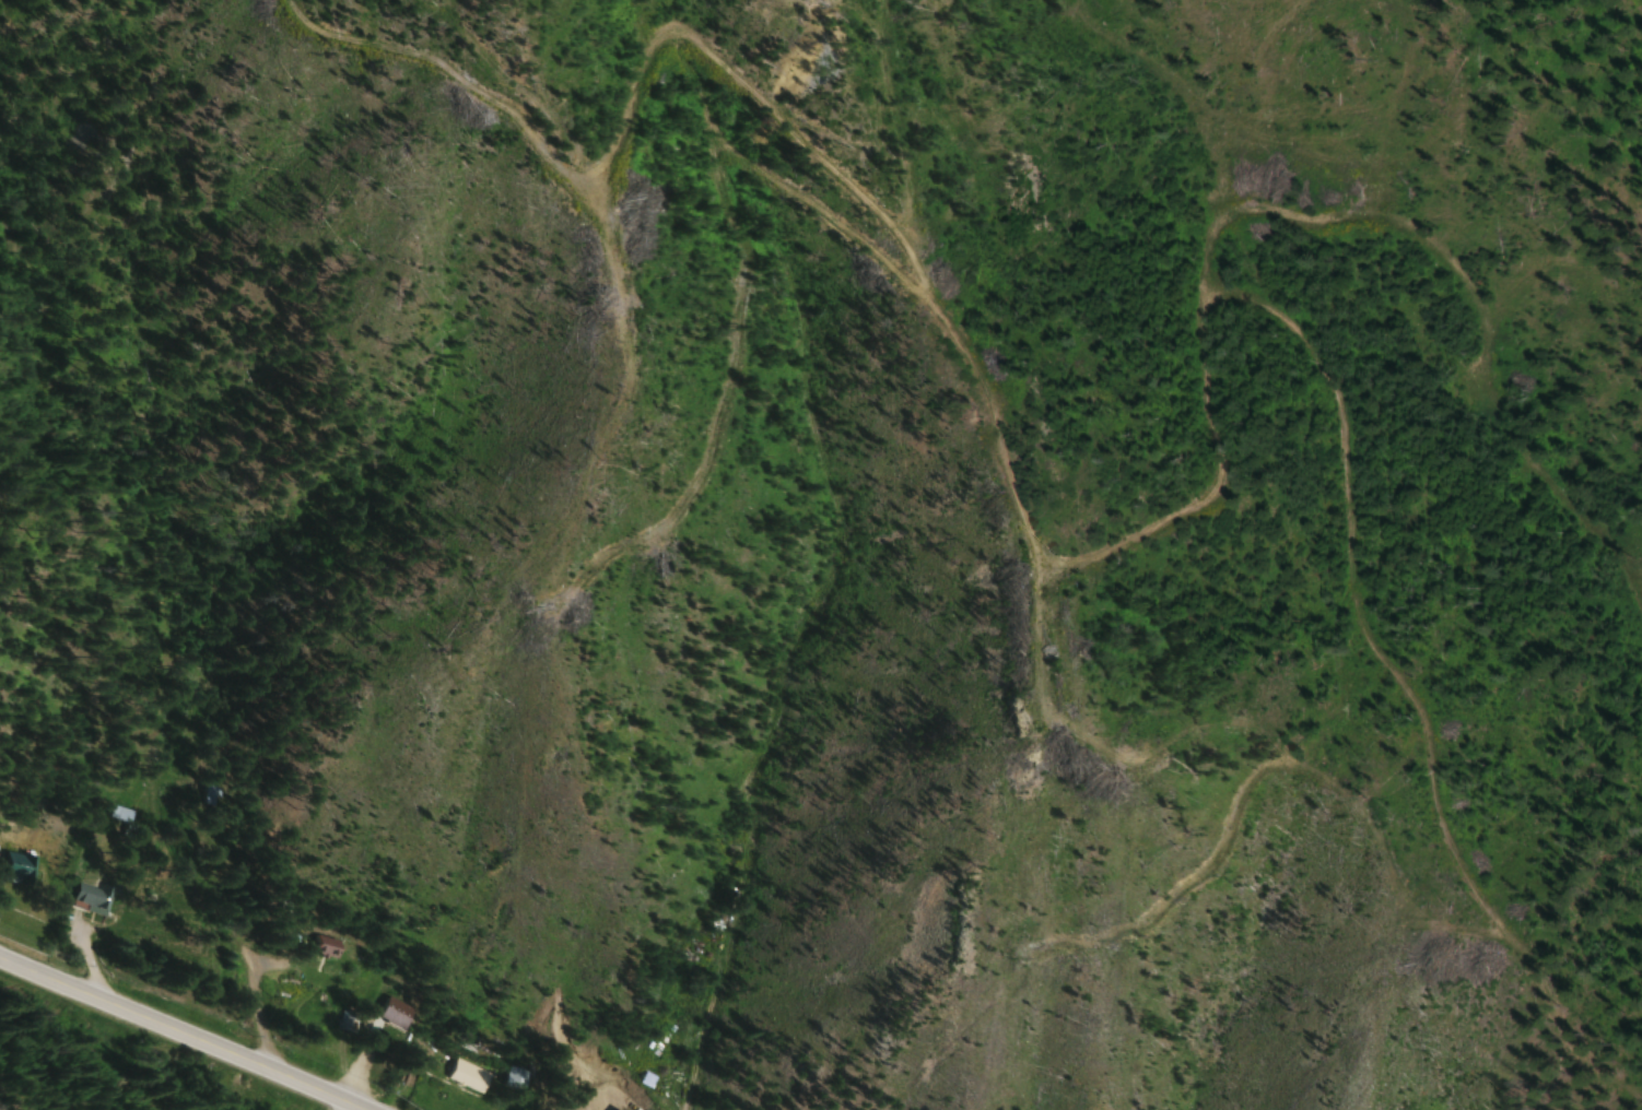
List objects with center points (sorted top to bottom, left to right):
building: (213, 795)
building: (121, 814)
building: (20, 867)
building: (94, 896)
building: (328, 947)
building: (397, 1014)
building: (350, 1022)
road: (180, 1034)
building: (470, 1076)
building: (516, 1079)
building: (648, 1081)

